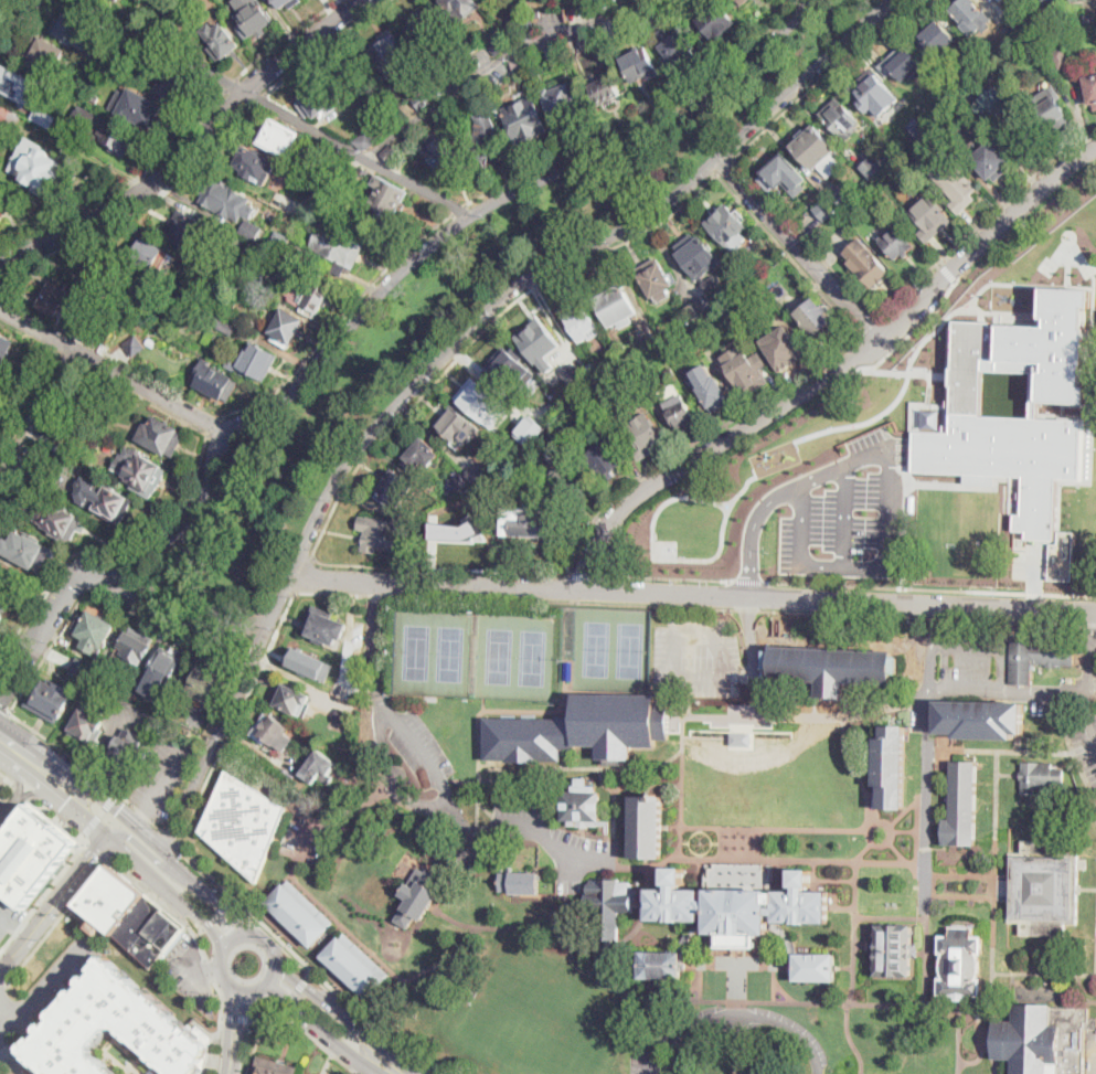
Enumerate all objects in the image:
building: (116, 0)
building: (1001, 0)
building: (1082, 0)
building: (171, 2)
building: (288, 2)
building: (741, 2)
park: (2, 3)
building: (677, 4)
building: (458, 8)
road: (15, 13)
building: (968, 14)
building: (650, 18)
building: (1089, 19)
building: (255, 20)
building: (715, 20)
building: (171, 22)
building: (1015, 22)
building: (529, 24)
building: (156, 25)
building: (427, 30)
building: (78, 33)
road: (284, 38)
building: (936, 39)
building: (221, 40)
road: (324, 44)
building: (498, 44)
building: (589, 45)
building: (677, 46)
building: (137, 47)
building: (557, 52)
building: (390, 55)
building: (1061, 55)
building: (46, 56)
building: (1041, 57)
building: (530, 60)
building: (902, 63)
road: (492, 64)
building: (639, 64)
building: (130, 65)
building: (520, 65)
building: (89, 67)
building: (979, 68)
road: (822, 77)
building: (989, 77)
road: (230, 82)
building: (20, 84)
building: (174, 84)
building: (606, 89)
building: (869, 89)
building: (1090, 89)
building: (94, 97)
road: (258, 98)
building: (322, 98)
building: (424, 99)
building: (996, 99)
building: (563, 100)
building: (972, 100)
road: (275, 108)
building: (141, 109)
building: (930, 111)
building: (1051, 113)
building: (9, 116)
building: (44, 116)
building: (953, 118)
building: (525, 119)
building: (840, 119)
building: (94, 121)
road: (645, 123)
building: (917, 126)
building: (2, 132)
building: (485, 132)
building: (71, 135)
building: (928, 137)
building: (117, 138)
building: (280, 138)
building: (904, 138)
building: (366, 140)
road: (195, 150)
building: (818, 151)
building: (392, 153)
building: (441, 157)
building: (991, 161)
building: (334, 163)
building: (256, 164)
road: (727, 164)
building: (38, 167)
building: (871, 167)
building: (362, 174)
building: (785, 176)
road: (124, 182)
building: (316, 182)
building: (0, 188)
building: (958, 188)
building: (389, 196)
building: (842, 199)
building: (227, 200)
building: (279, 200)
building: (289, 206)
road: (461, 208)
road: (137, 209)
building: (3, 210)
building: (826, 210)
building: (932, 217)
road: (982, 220)
building: (727, 227)
building: (188, 230)
building: (252, 231)
road: (807, 237)
building: (280, 241)
building: (896, 243)
road: (799, 246)
building: (340, 248)
road: (789, 254)
building: (152, 255)
road: (415, 258)
building: (699, 258)
road: (561, 259)
building: (217, 262)
building: (866, 263)
road: (948, 269)
building: (100, 277)
building: (656, 280)
building: (779, 291)
building: (307, 295)
building: (54, 299)
building: (231, 300)
building: (707, 301)
building: (617, 306)
building: (727, 306)
building: (700, 307)
building: (692, 311)
road: (339, 318)
building: (581, 321)
building: (816, 321)
building: (224, 326)
building: (288, 326)
road: (869, 326)
building: (98, 328)
road: (914, 329)
road: (887, 331)
building: (648, 337)
park: (435, 338)
building: (208, 339)
building: (150, 341)
building: (541, 344)
building: (785, 345)
building: (6, 347)
building: (130, 348)
building: (254, 362)
building: (510, 369)
road: (110, 370)
building: (746, 370)
building: (592, 372)
road: (837, 372)
building: (572, 374)
building: (668, 374)
building: (216, 382)
building: (712, 389)
building: (589, 403)
building: (491, 405)
building: (561, 405)
road: (33, 408)
building: (52, 415)
building: (681, 415)
building: (992, 416)
road: (178, 417)
road: (213, 423)
road: (395, 424)
building: (454, 424)
building: (530, 429)
building: (646, 436)
building: (162, 437)
building: (549, 439)
road: (698, 439)
building: (423, 454)
building: (608, 460)
building: (140, 471)
building: (41, 474)
building: (476, 474)
road: (890, 475)
building: (459, 482)
building: (573, 482)
building: (397, 488)
building: (22, 497)
building: (104, 500)
building: (530, 520)
building: (61, 521)
building: (440, 522)
building: (458, 530)
building: (419, 533)
building: (383, 534)
road: (613, 543)
road: (107, 546)
building: (29, 550)
building: (1062, 556)
road: (305, 575)
road: (586, 575)
road: (850, 584)
road: (693, 594)
road: (280, 598)
road: (515, 599)
road: (747, 608)
building: (1, 615)
road: (927, 616)
road: (170, 618)
road: (167, 627)
building: (328, 628)
building: (96, 631)
road: (41, 632)
road: (264, 637)
building: (136, 648)
park: (597, 648)
road: (49, 649)
park: (630, 650)
park: (417, 651)
park: (450, 653)
parking lot: (699, 653)
road: (674, 655)
park: (500, 656)
park: (533, 657)
building: (1038, 658)
building: (309, 662)
parking lot: (968, 666)
building: (832, 668)
building: (82, 669)
building: (568, 669)
building: (164, 671)
road: (1001, 671)
building: (105, 673)
building: (210, 684)
building: (137, 693)
road: (1081, 694)
building: (292, 699)
building: (51, 700)
road: (4, 709)
road: (837, 709)
parking lot: (839, 712)
building: (196, 715)
building: (343, 716)
road: (238, 719)
building: (980, 719)
building: (89, 724)
building: (582, 730)
building: (273, 732)
road: (687, 734)
road: (216, 736)
road: (8, 744)
parking lot: (1085, 745)
road: (978, 751)
building: (127, 753)
road: (859, 765)
building: (892, 766)
road: (88, 767)
building: (318, 767)
road: (628, 767)
road: (1082, 769)
road: (435, 775)
road: (8, 776)
road: (390, 776)
building: (1040, 776)
road: (167, 777)
road: (21, 781)
road: (87, 788)
road: (616, 788)
road: (23, 789)
road: (30, 793)
road: (56, 797)
traffic signals: (64, 804)
road: (927, 804)
building: (581, 805)
building: (962, 805)
road: (8, 810)
traffic signals: (119, 810)
road: (102, 812)
road: (141, 817)
building: (244, 823)
building: (647, 828)
road: (614, 829)
road: (701, 829)
road: (905, 830)
road: (681, 831)
road: (705, 831)
road: (84, 836)
road: (720, 836)
road: (171, 838)
road: (892, 838)
road: (685, 842)
road: (715, 843)
road: (739, 843)
road: (751, 844)
road: (760, 844)
road: (158, 846)
road: (730, 846)
road: (738, 846)
road: (95, 849)
road: (720, 851)
building: (31, 853)
road: (864, 853)
road: (898, 853)
road: (151, 855)
road: (701, 855)
road: (650, 865)
road: (64, 866)
road: (916, 874)
road: (824, 880)
building: (521, 883)
road: (934, 885)
building: (1043, 887)
road: (167, 890)
road: (855, 894)
road: (210, 895)
building: (417, 897)
road: (232, 900)
road: (163, 901)
road: (53, 903)
building: (709, 910)
building: (300, 911)
road: (994, 912)
building: (130, 915)
road: (216, 915)
road: (55, 921)
road: (926, 921)
road: (200, 933)
road: (240, 936)
road: (267, 945)
building: (894, 949)
road: (306, 964)
building: (357, 964)
road: (737, 964)
building: (662, 965)
building: (961, 965)
building: (815, 967)
parking lot: (188, 969)
road: (200, 969)
road: (210, 969)
road: (181, 970)
road: (272, 974)
road: (308, 975)
road: (52, 980)
road: (228, 980)
road: (3, 983)
road: (295, 991)
road: (312, 992)
road: (284, 1006)
road: (285, 1010)
road: (10, 1011)
road: (737, 1014)
road: (737, 1014)
road: (236, 1017)
road: (257, 1020)
road: (220, 1025)
road: (230, 1025)
road: (322, 1028)
building: (119, 1029)
road: (241, 1030)
road: (10, 1035)
building: (1044, 1039)
road: (382, 1050)
road: (736, 1050)
road: (13, 1061)
building: (273, 1071)
road: (228, 1073)

